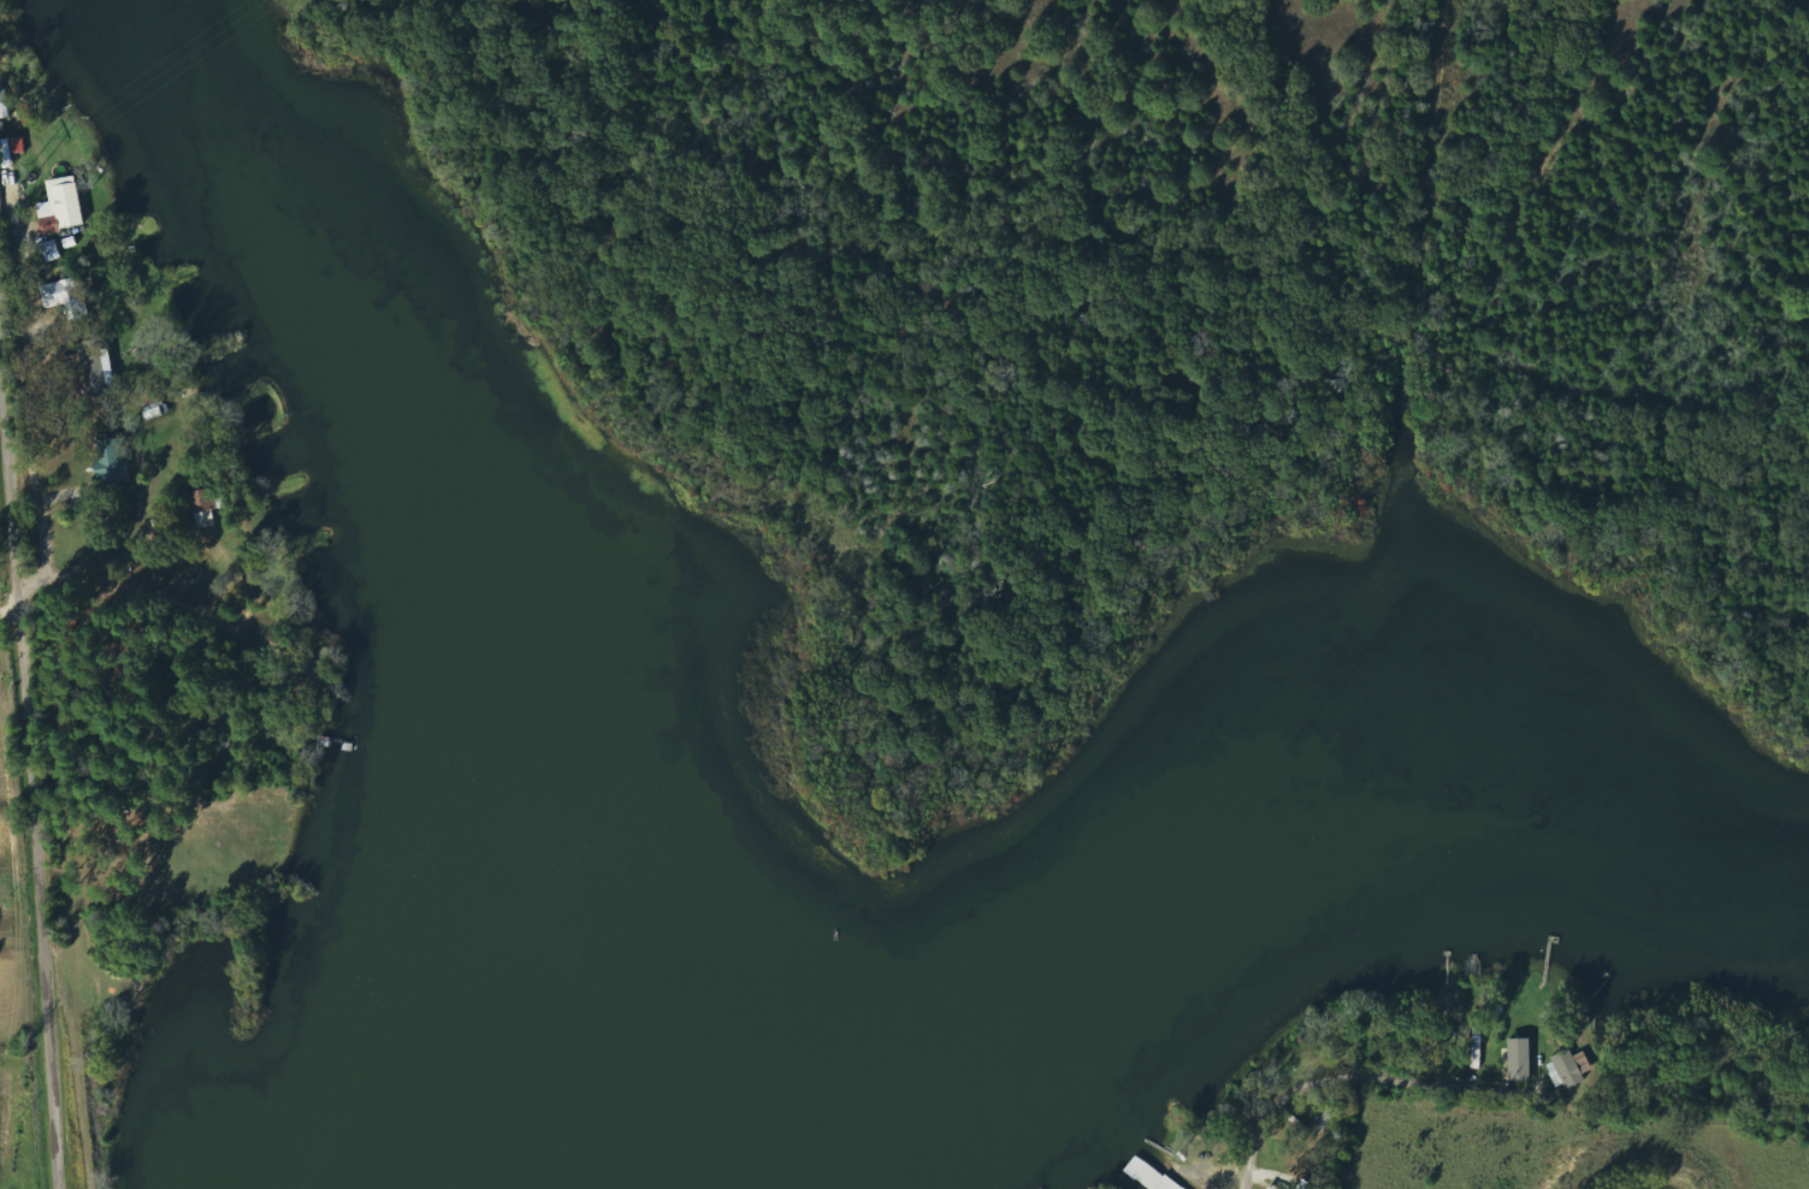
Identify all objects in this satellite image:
building: (13, 149)
power tower: (32, 168)
building: (64, 206)
building: (52, 250)
building: (67, 297)
building: (96, 367)
building: (116, 461)
building: (203, 507)
road: (106, 694)
road: (137, 833)
road: (13, 863)
building: (1521, 1060)
building: (1568, 1070)
road: (1301, 1071)
building: (1151, 1176)

